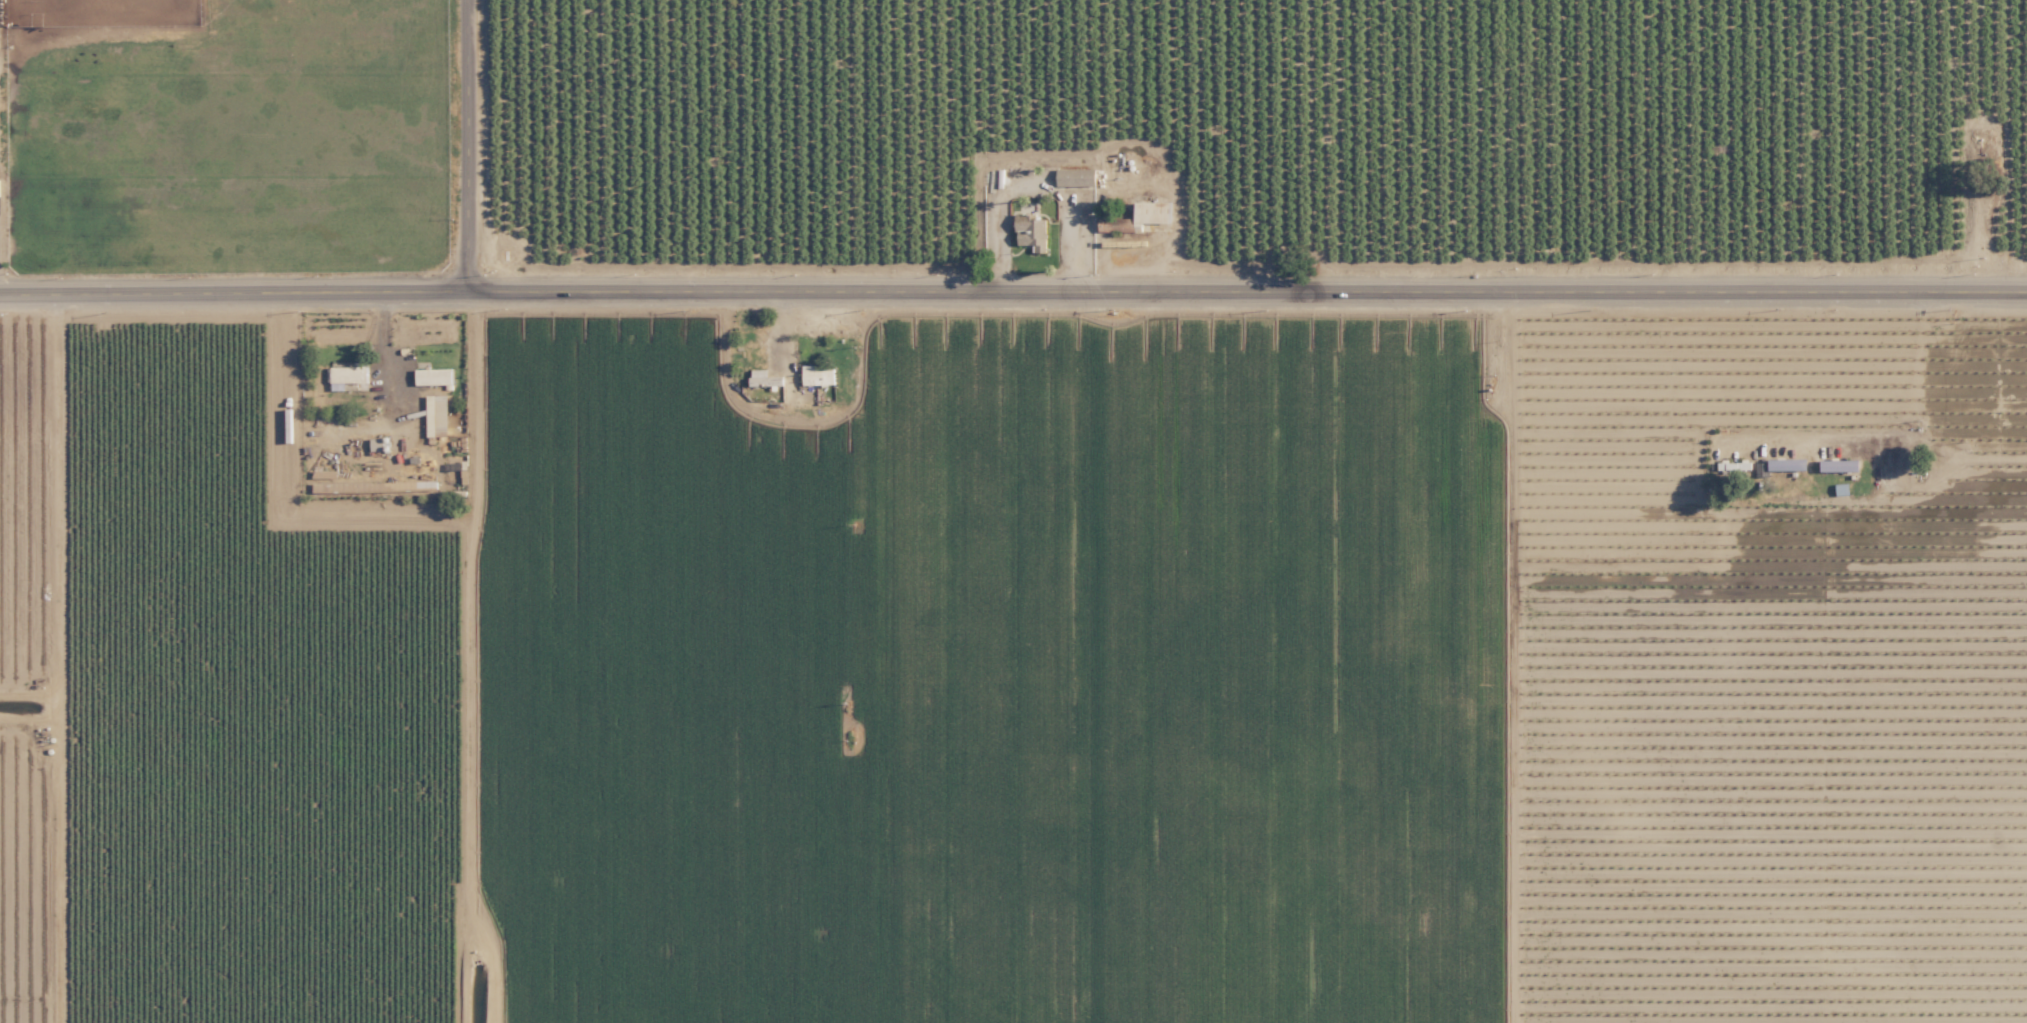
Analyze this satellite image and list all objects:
crop: (1766, 126)
crop: (994, 128)
crop: (224, 131)
road: (464, 139)
building: (1075, 177)
road: (1036, 188)
building: (1151, 213)
building: (1031, 235)
road: (1013, 281)
road: (386, 326)
building: (346, 374)
building: (816, 375)
building: (432, 376)
building: (435, 414)
road: (1883, 434)
road: (1953, 461)
building: (1839, 465)
crop: (777, 663)
crop: (1303, 664)

